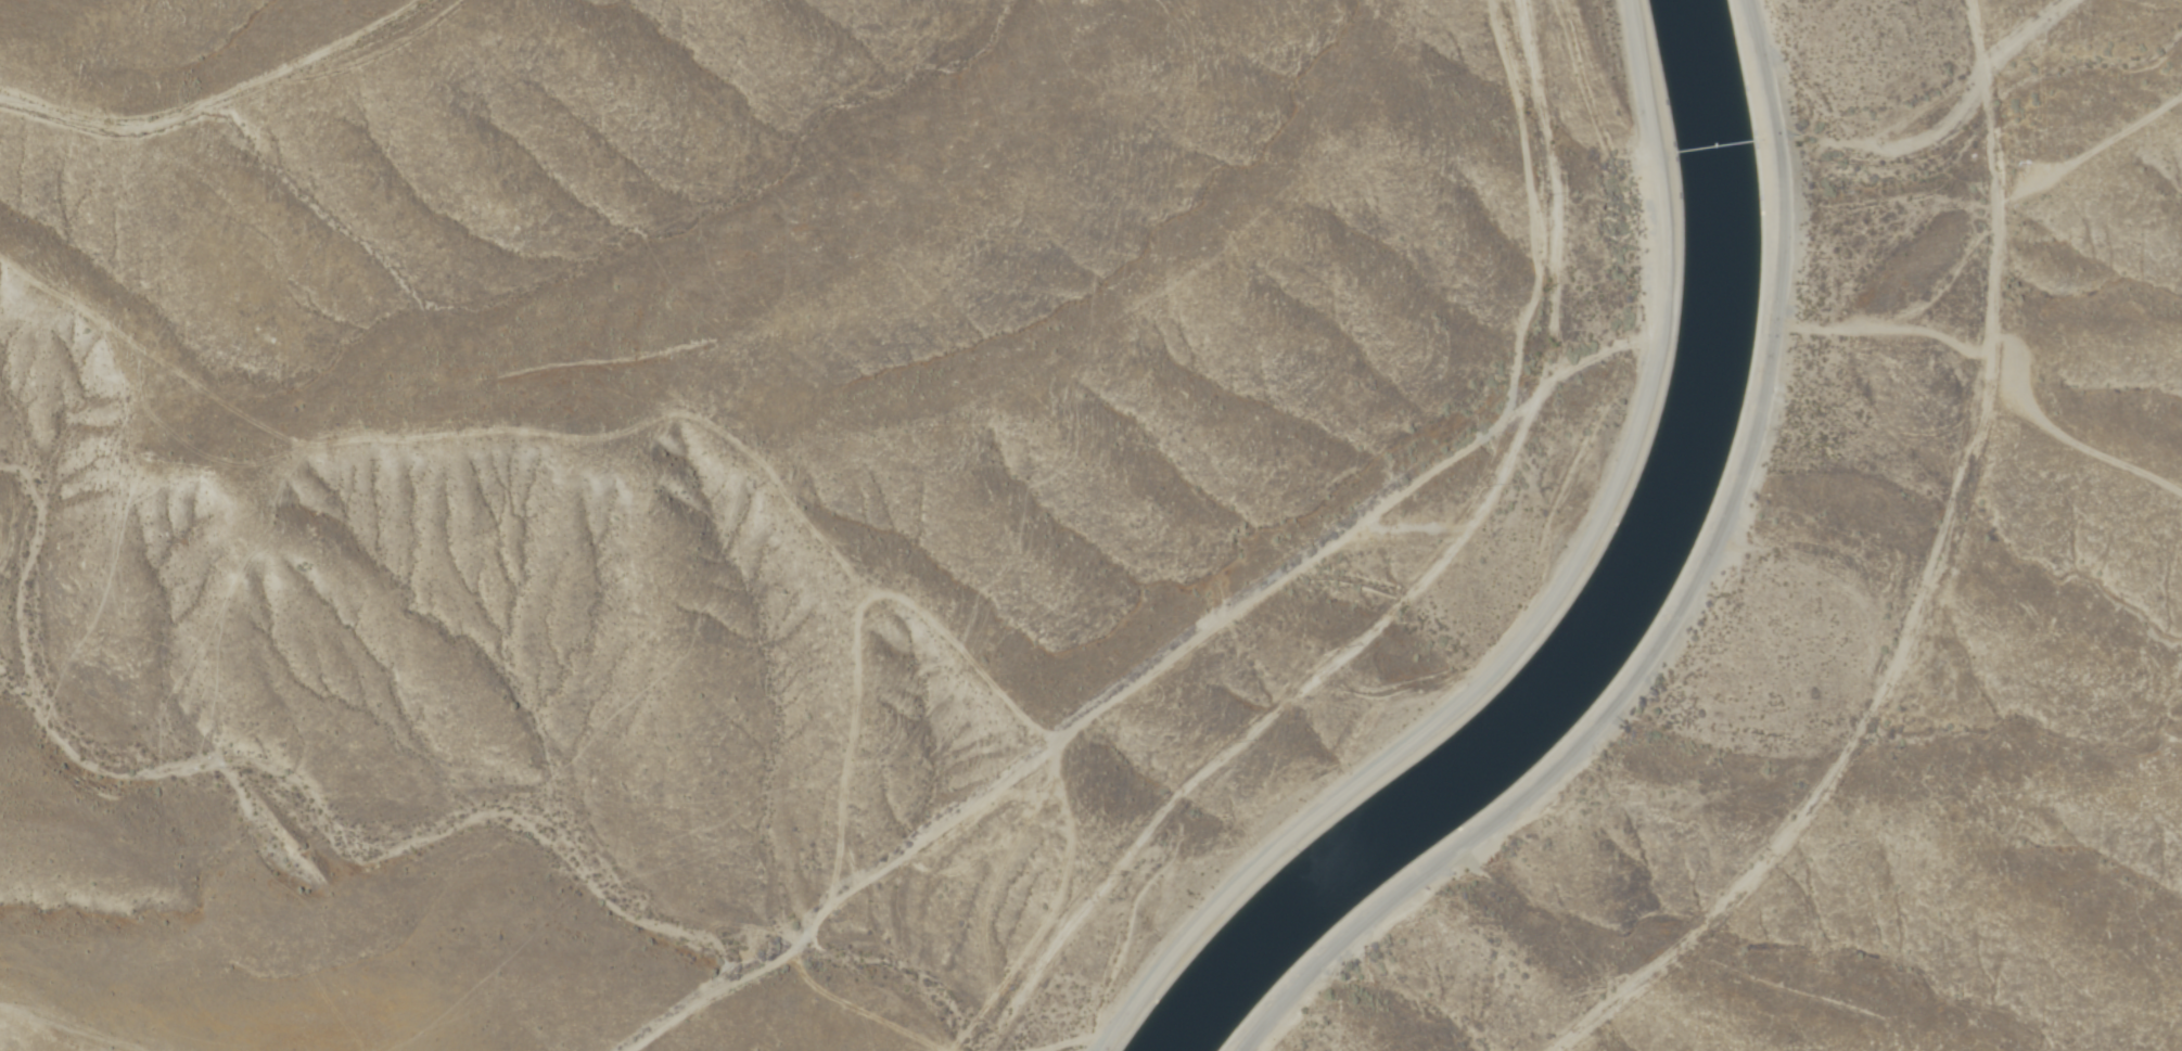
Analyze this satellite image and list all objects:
road: (245, 108)
road: (1935, 588)
road: (1545, 604)
road: (1234, 607)
road: (1677, 607)
road: (113, 1009)

